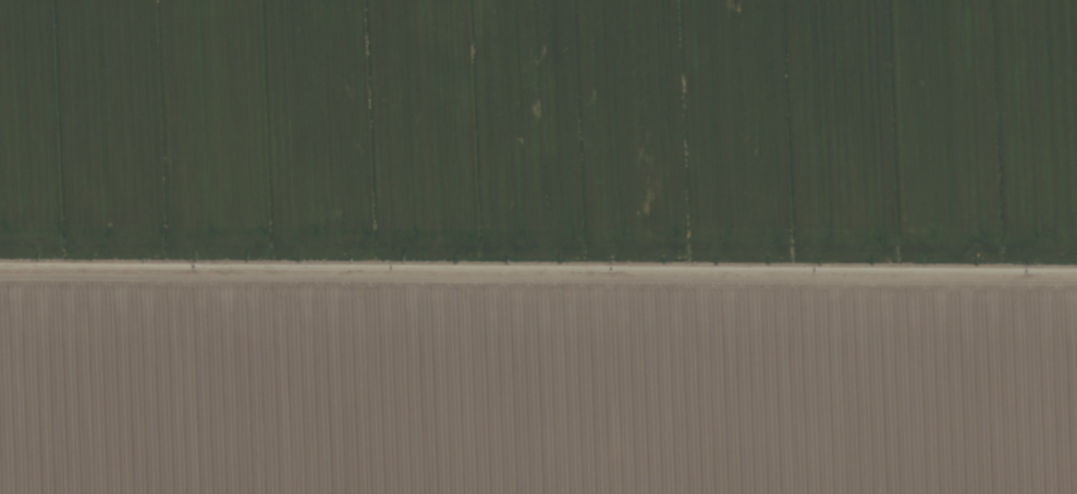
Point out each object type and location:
road: (538, 283)

